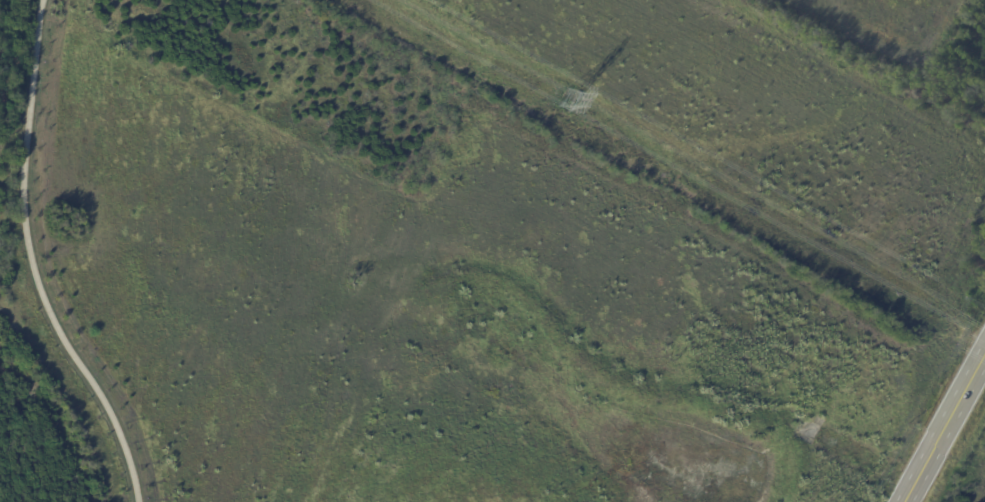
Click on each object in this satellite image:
power tower: (567, 99)
road: (32, 262)
road: (944, 427)

